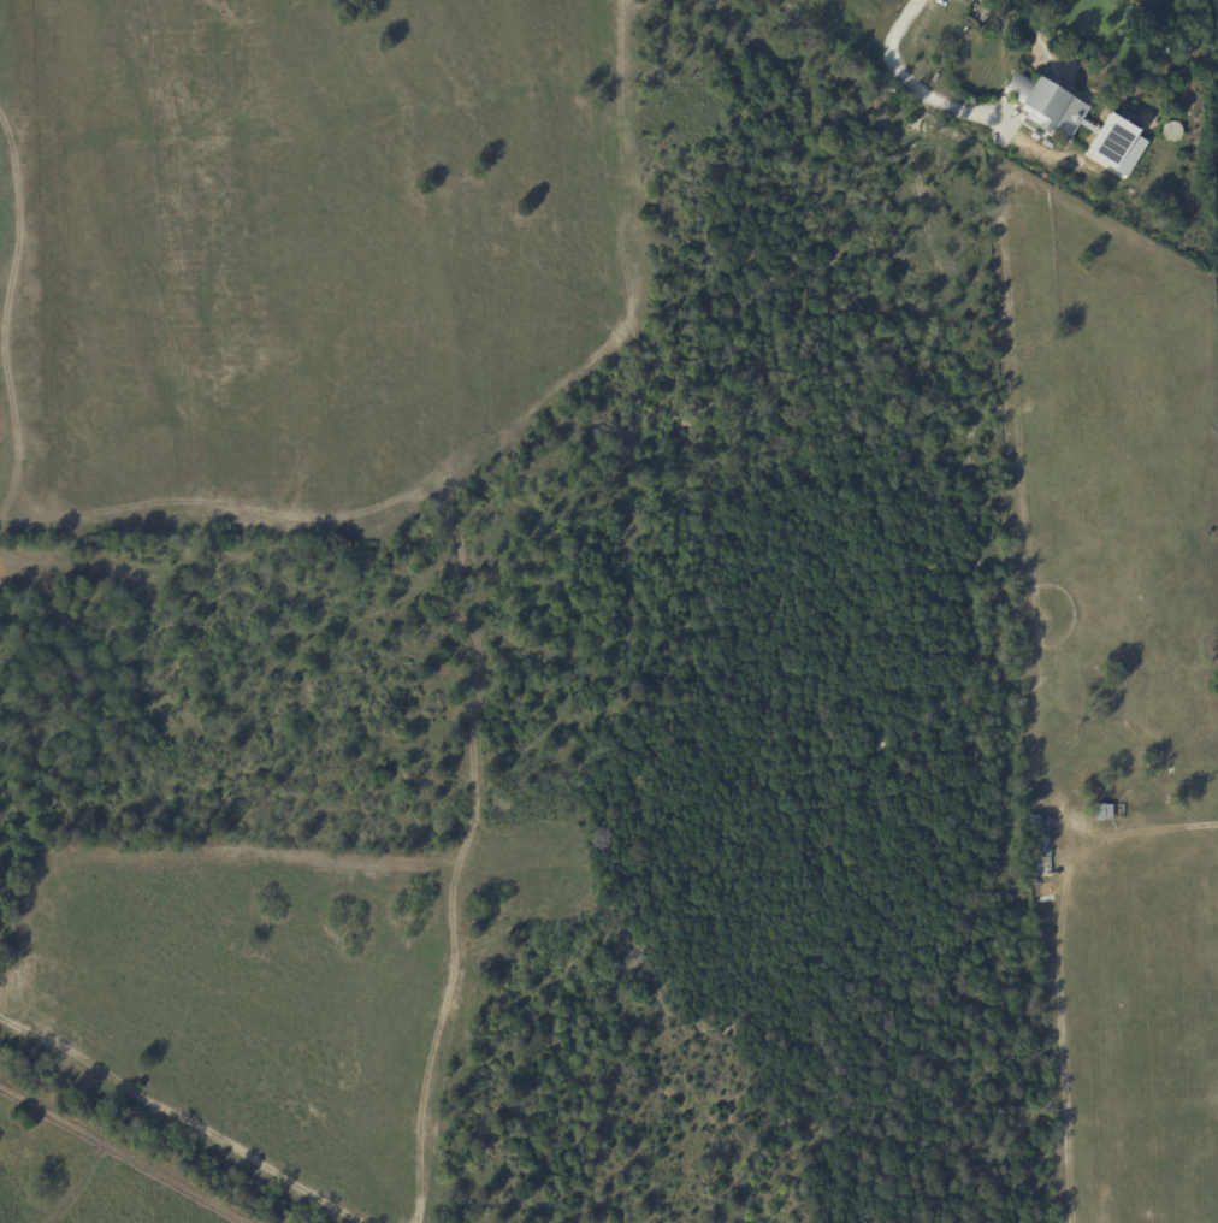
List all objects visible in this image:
parking lot: (875, 7)
building: (986, 13)
road: (910, 81)
building: (1045, 105)
building: (1114, 146)
building: (1104, 813)
road: (1155, 827)
building: (1037, 849)

